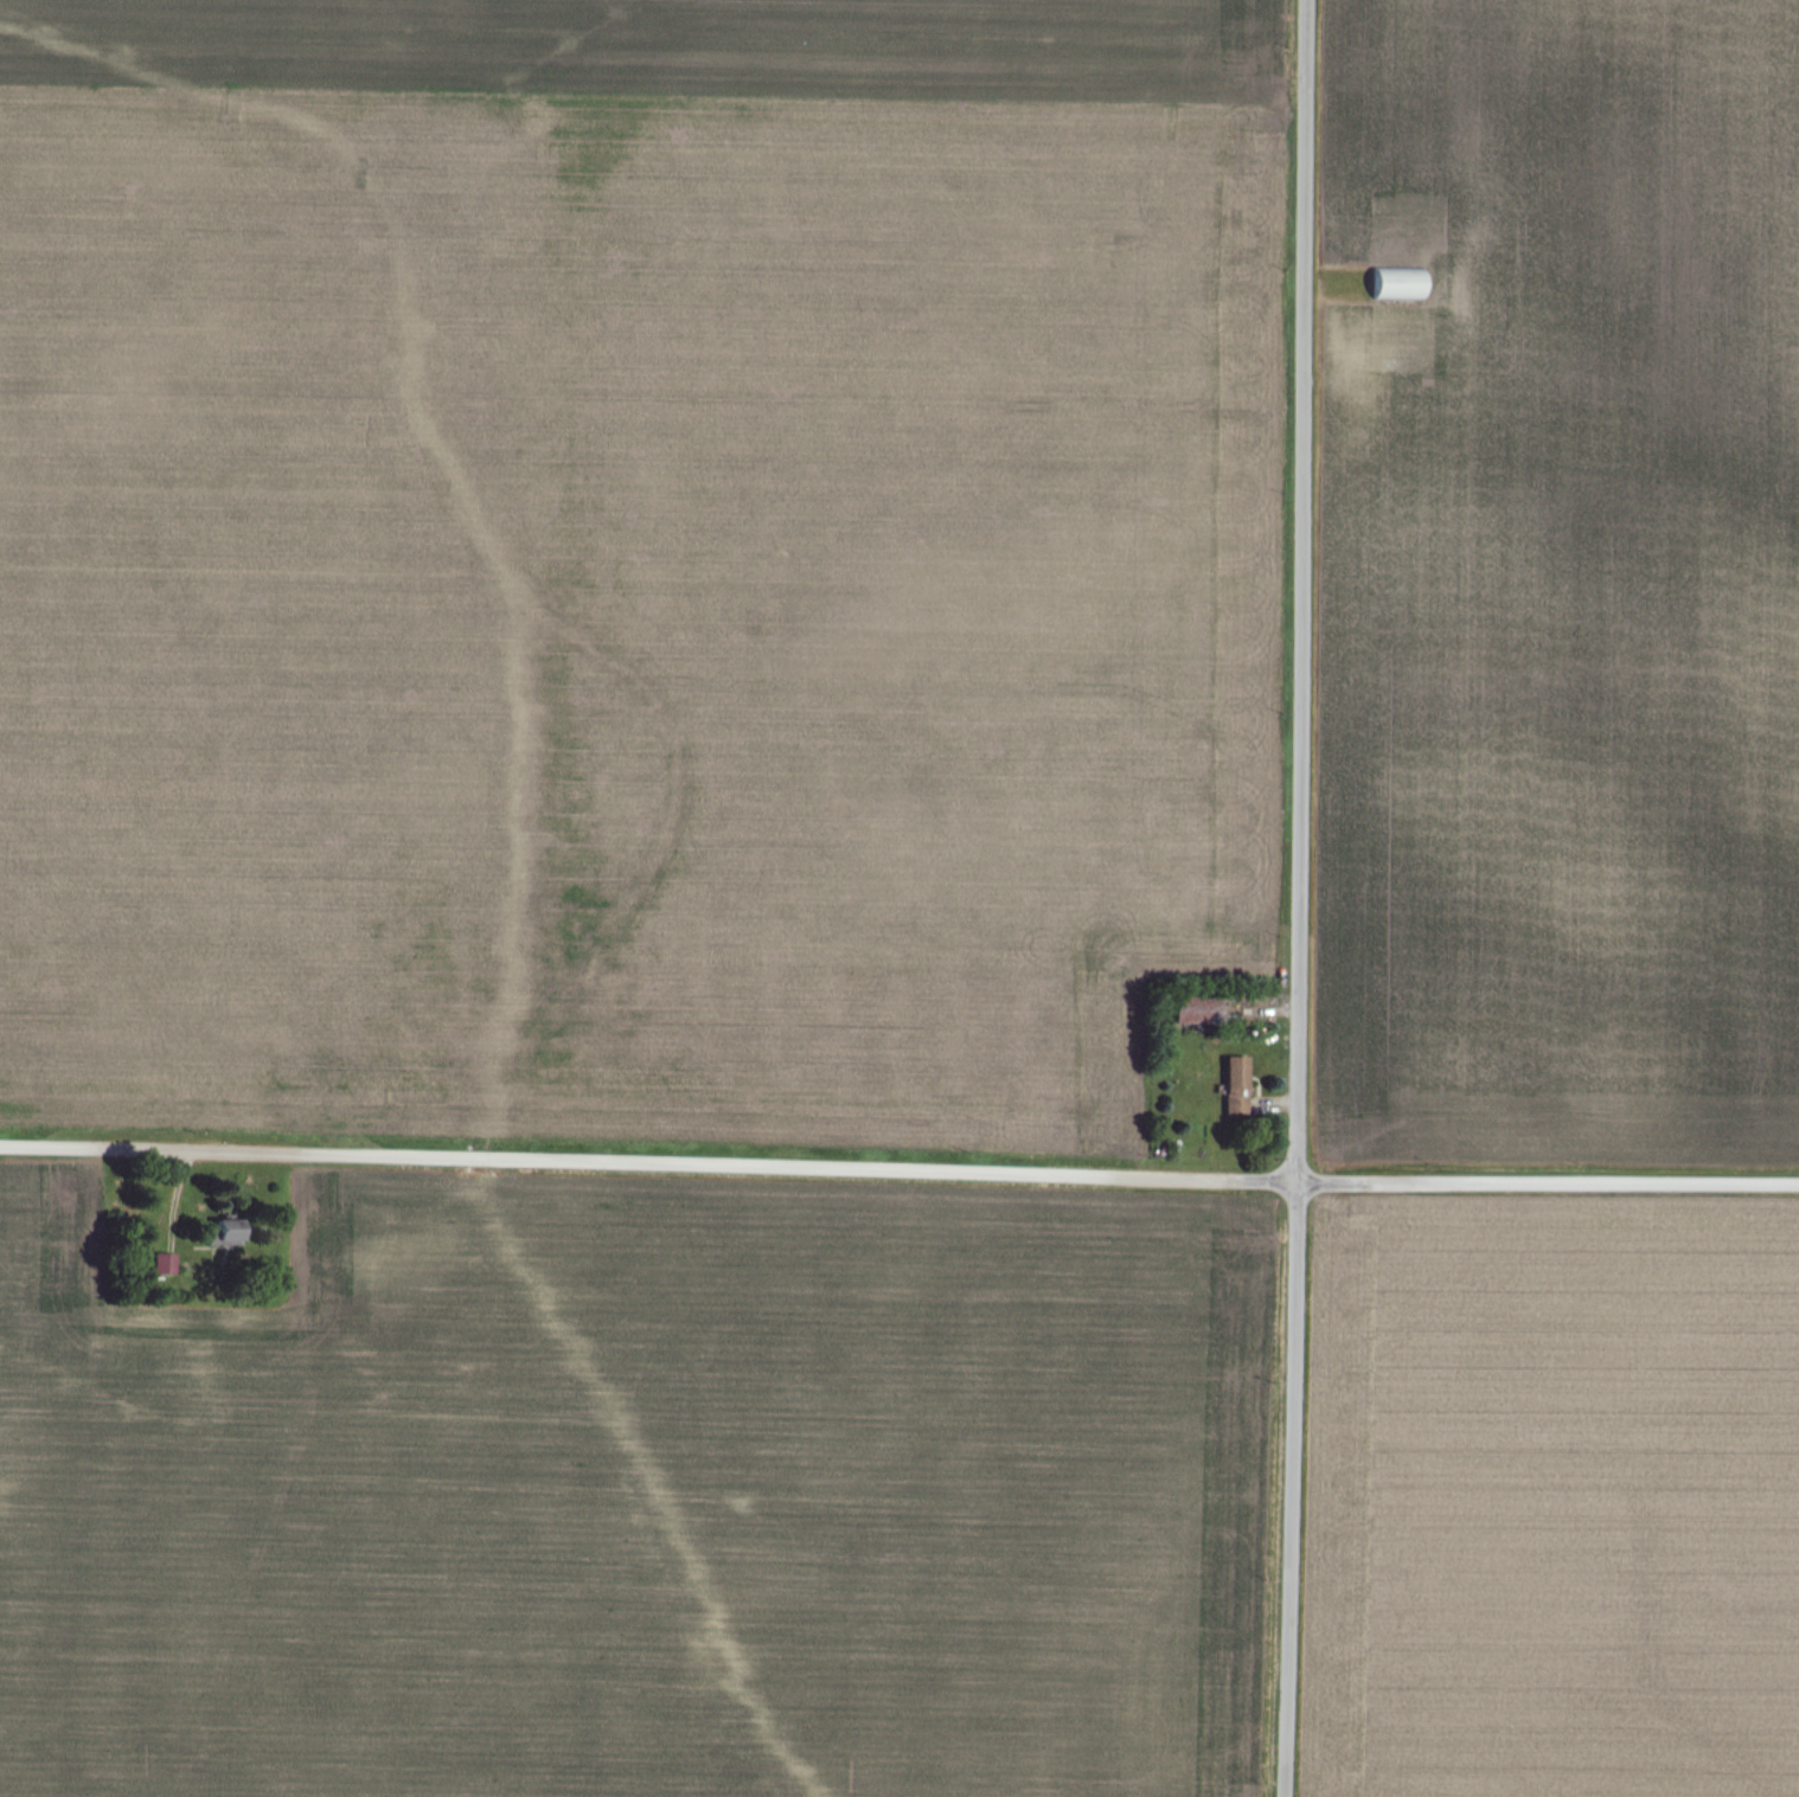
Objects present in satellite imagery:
building: (1396, 284)
road: (1281, 898)
building: (1235, 1070)
road: (898, 1187)
building: (223, 1231)

